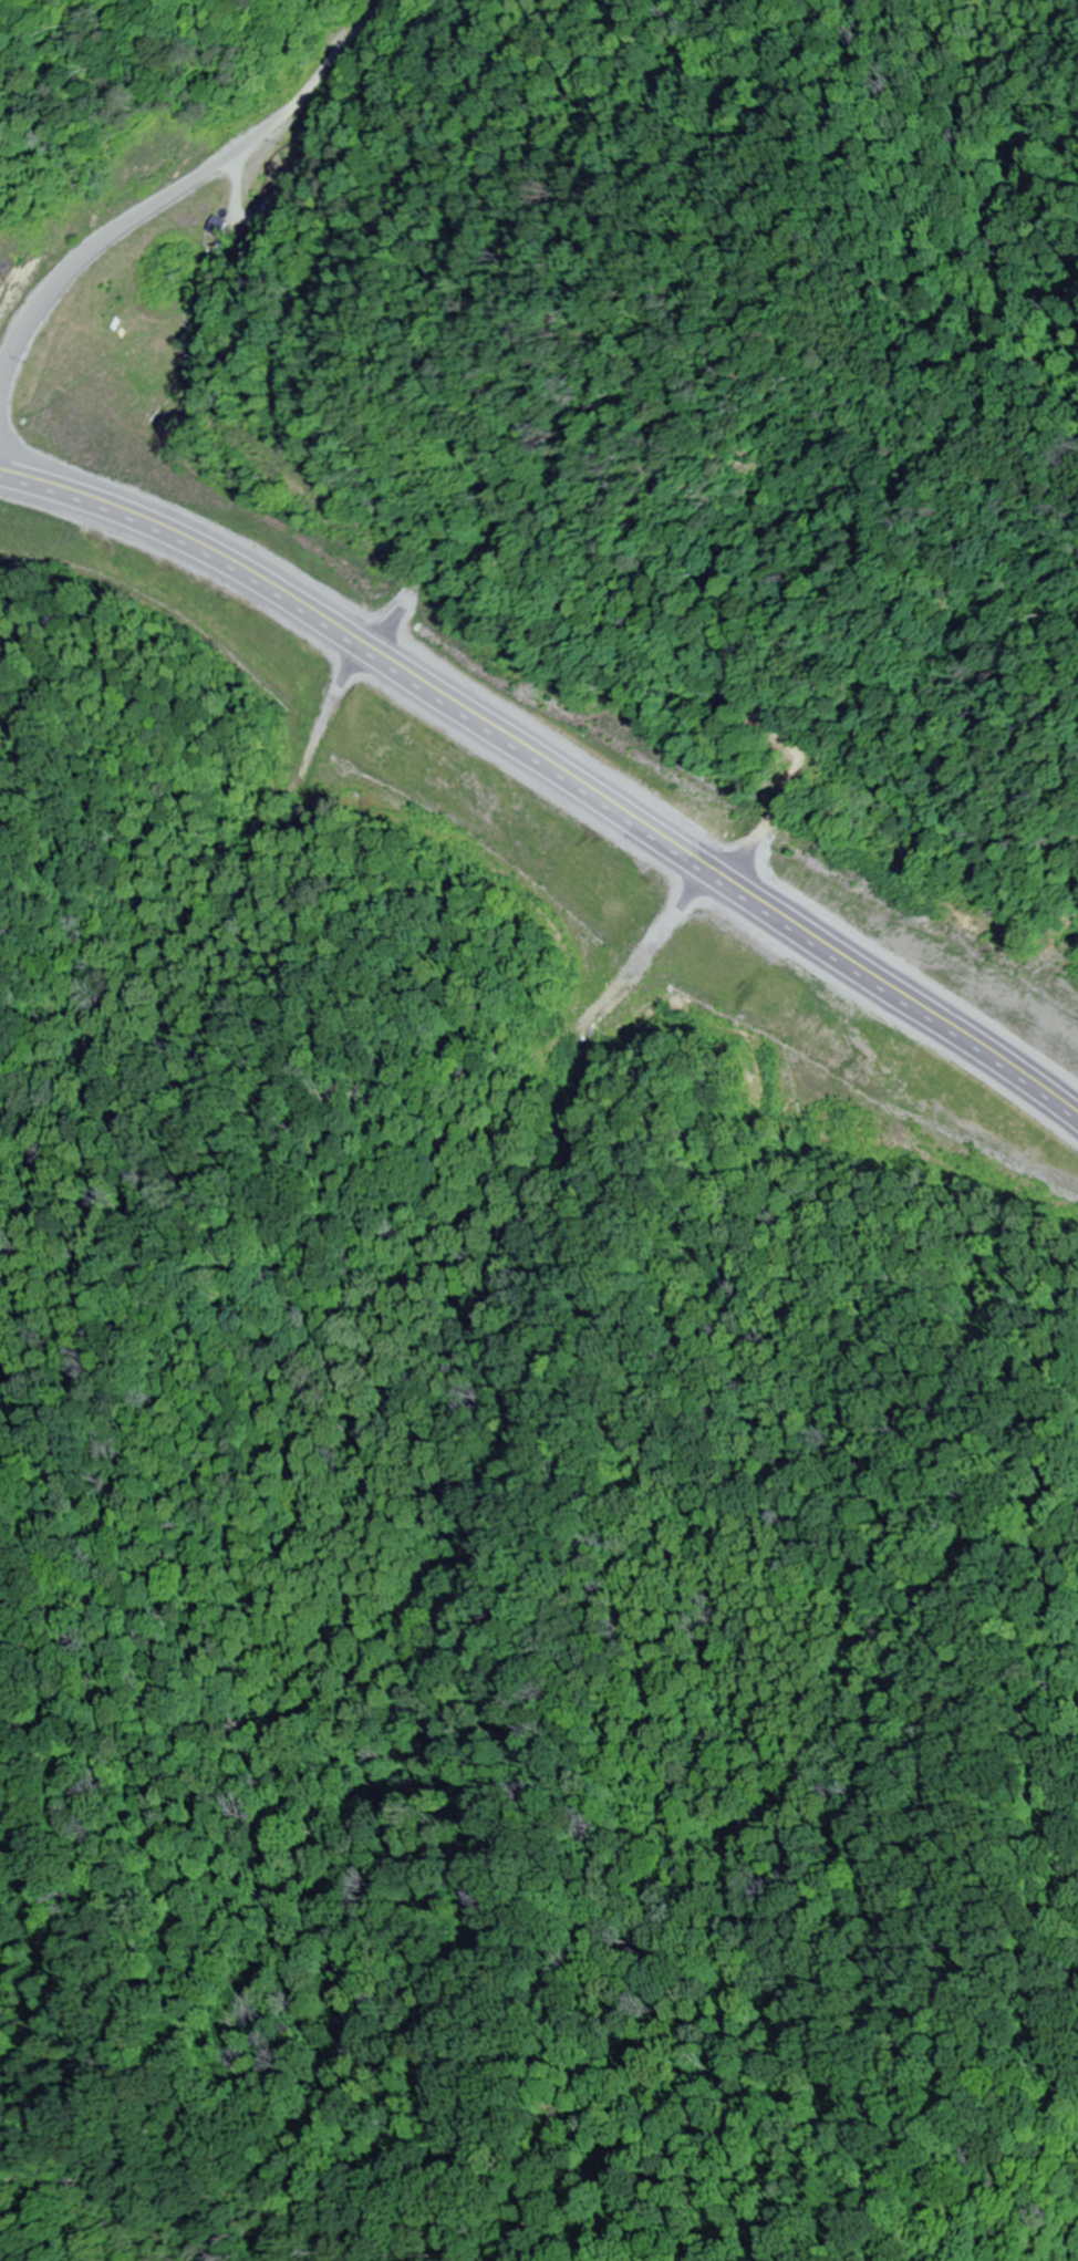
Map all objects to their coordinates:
building: (178, 450)
building: (95, 483)
building: (113, 516)
building: (160, 519)
building: (71, 535)
building: (136, 537)
building: (169, 541)
building: (552, 724)
road: (554, 758)
building: (702, 795)
building: (633, 901)
building: (848, 912)
building: (870, 1035)

